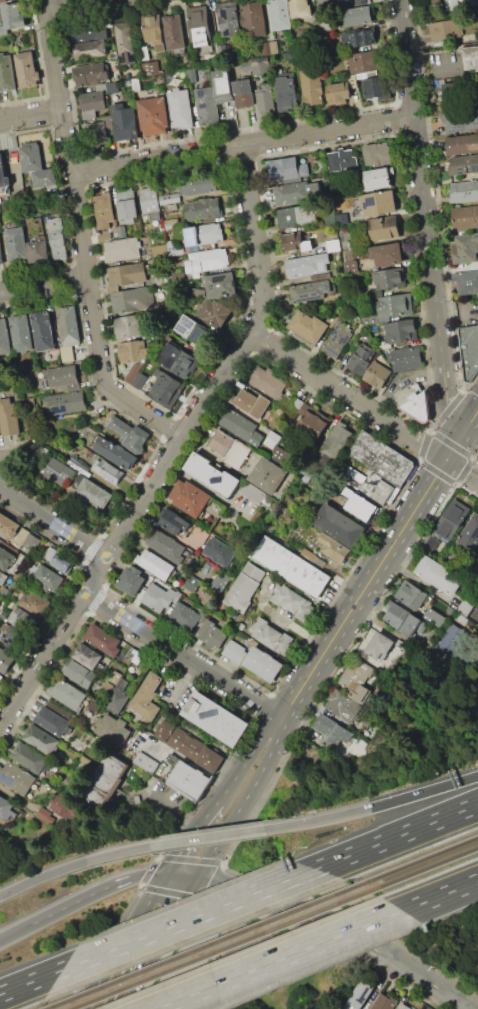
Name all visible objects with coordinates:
building: (470, 0)
road: (61, 2)
building: (327, 2)
building: (360, 2)
building: (432, 4)
building: (455, 5)
building: (300, 8)
building: (278, 14)
building: (355, 16)
building: (12, 17)
building: (251, 18)
building: (228, 19)
building: (199, 25)
building: (325, 27)
building: (446, 29)
building: (86, 30)
building: (153, 31)
building: (173, 31)
building: (358, 38)
building: (124, 42)
building: (270, 47)
building: (90, 49)
building: (220, 49)
building: (113, 54)
building: (206, 55)
building: (290, 55)
building: (471, 59)
building: (364, 61)
building: (256, 64)
road: (434, 65)
building: (151, 68)
building: (27, 69)
building: (6, 72)
building: (91, 73)
building: (191, 75)
building: (136, 84)
building: (222, 85)
building: (312, 86)
building: (112, 87)
building: (378, 87)
building: (454, 90)
building: (287, 92)
building: (243, 93)
building: (339, 94)
building: (265, 97)
building: (92, 100)
building: (206, 107)
building: (180, 108)
road: (31, 114)
building: (153, 116)
building: (461, 119)
building: (108, 120)
building: (124, 122)
building: (97, 133)
road: (66, 137)
road: (242, 144)
building: (462, 144)
building: (377, 153)
building: (30, 156)
building: (342, 160)
building: (463, 164)
building: (286, 169)
building: (3, 174)
building: (377, 177)
building: (44, 178)
building: (197, 184)
road: (421, 185)
building: (464, 191)
building: (293, 192)
building: (19, 195)
building: (169, 198)
building: (149, 199)
building: (379, 202)
building: (127, 205)
building: (103, 209)
building: (203, 209)
building: (297, 216)
building: (465, 217)
building: (342, 219)
building: (384, 228)
building: (121, 231)
building: (204, 234)
building: (104, 237)
building: (292, 237)
building: (58, 238)
road: (256, 240)
building: (16, 243)
building: (298, 245)
building: (333, 245)
building: (352, 245)
building: (175, 248)
building: (465, 248)
building: (122, 249)
building: (158, 250)
building: (38, 251)
building: (387, 254)
building: (349, 256)
building: (1, 257)
building: (207, 260)
building: (307, 264)
building: (350, 267)
building: (127, 274)
building: (390, 278)
building: (164, 280)
building: (466, 281)
road: (44, 282)
building: (221, 285)
building: (309, 291)
building: (131, 300)
road: (461, 300)
building: (390, 308)
building: (214, 312)
building: (67, 321)
building: (130, 324)
building: (308, 326)
building: (190, 328)
building: (42, 329)
building: (401, 330)
building: (20, 332)
building: (339, 336)
building: (3, 337)
building: (469, 350)
building: (133, 351)
building: (67, 353)
building: (361, 358)
building: (406, 358)
building: (177, 360)
building: (133, 372)
road: (310, 372)
building: (376, 374)
building: (61, 375)
road: (102, 376)
road: (398, 376)
building: (139, 380)
building: (267, 382)
road: (216, 385)
building: (166, 388)
building: (66, 402)
building: (250, 402)
road: (447, 403)
building: (294, 404)
building: (417, 406)
building: (8, 418)
road: (472, 418)
building: (312, 419)
building: (242, 427)
building: (129, 434)
road: (409, 435)
building: (272, 439)
building: (335, 441)
road: (456, 443)
building: (229, 447)
building: (115, 452)
road: (22, 453)
building: (280, 455)
building: (381, 458)
traffic signals: (447, 460)
building: (78, 461)
road: (462, 470)
building: (108, 471)
building: (60, 472)
building: (352, 472)
building: (212, 474)
building: (267, 474)
building: (307, 475)
road: (205, 488)
building: (380, 489)
building: (92, 491)
building: (256, 493)
building: (188, 497)
building: (359, 505)
building: (451, 519)
road: (53, 522)
building: (176, 523)
building: (9, 525)
building: (339, 525)
building: (470, 533)
building: (20, 536)
building: (31, 541)
building: (429, 544)
building: (165, 546)
building: (333, 547)
building: (219, 551)
building: (313, 557)
building: (6, 558)
building: (477, 559)
building: (57, 560)
building: (154, 564)
building: (234, 565)
building: (292, 566)
building: (18, 575)
building: (439, 575)
building: (2, 577)
building: (48, 578)
road: (91, 579)
building: (131, 579)
building: (192, 583)
building: (18, 585)
building: (244, 586)
road: (364, 588)
building: (4, 591)
building: (411, 594)
building: (1, 597)
building: (158, 597)
building: (292, 601)
building: (34, 603)
building: (465, 607)
building: (4, 614)
building: (395, 614)
building: (428, 617)
building: (185, 618)
building: (23, 619)
building: (413, 625)
building: (211, 634)
building: (270, 635)
building: (16, 638)
building: (451, 639)
building: (104, 640)
building: (401, 644)
building: (379, 646)
building: (235, 652)
road: (183, 654)
building: (87, 655)
building: (135, 655)
building: (6, 660)
building: (373, 661)
building: (262, 664)
building: (78, 672)
building: (355, 674)
building: (114, 677)
building: (1, 678)
road: (181, 680)
building: (359, 693)
building: (67, 695)
building: (118, 696)
building: (147, 697)
building: (341, 705)
building: (58, 710)
building: (215, 718)
building: (52, 721)
building: (113, 729)
building: (331, 729)
building: (41, 739)
building: (178, 739)
building: (93, 744)
road: (247, 757)
building: (31, 758)
building: (209, 759)
road: (184, 760)
building: (146, 762)
building: (17, 777)
building: (102, 780)
building: (188, 780)
road: (245, 800)
building: (63, 806)
road: (376, 808)
building: (7, 809)
road: (171, 809)
building: (45, 815)
road: (207, 815)
building: (0, 834)
road: (396, 835)
road: (215, 836)
road: (182, 851)
railway: (422, 858)
road: (77, 864)
railway: (428, 865)
traffic signals: (166, 874)
road: (181, 875)
traffic signals: (196, 877)
road: (205, 890)
road: (95, 891)
road: (439, 894)
road: (203, 904)
road: (187, 918)
road: (338, 932)
road: (15, 933)
park: (251, 939)
road: (121, 941)
road: (327, 941)
road: (153, 942)
railway: (205, 945)
railway: (223, 947)
road: (162, 949)
road: (295, 958)
road: (276, 959)
road: (296, 959)
park: (247, 966)
park: (247, 966)
road: (288, 977)
road: (30, 981)
building: (358, 995)
building: (383, 1001)
building: (403, 1006)

